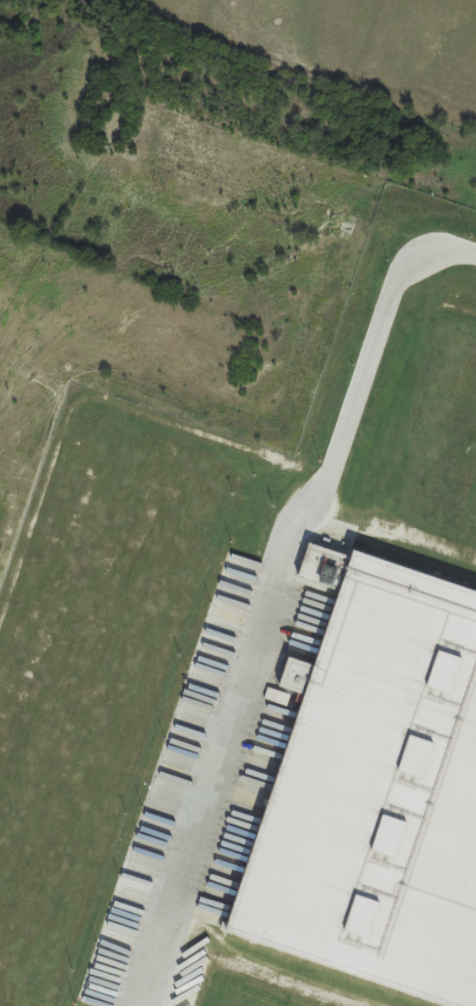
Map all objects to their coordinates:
building: (427, 455)
road: (286, 600)
building: (372, 795)

